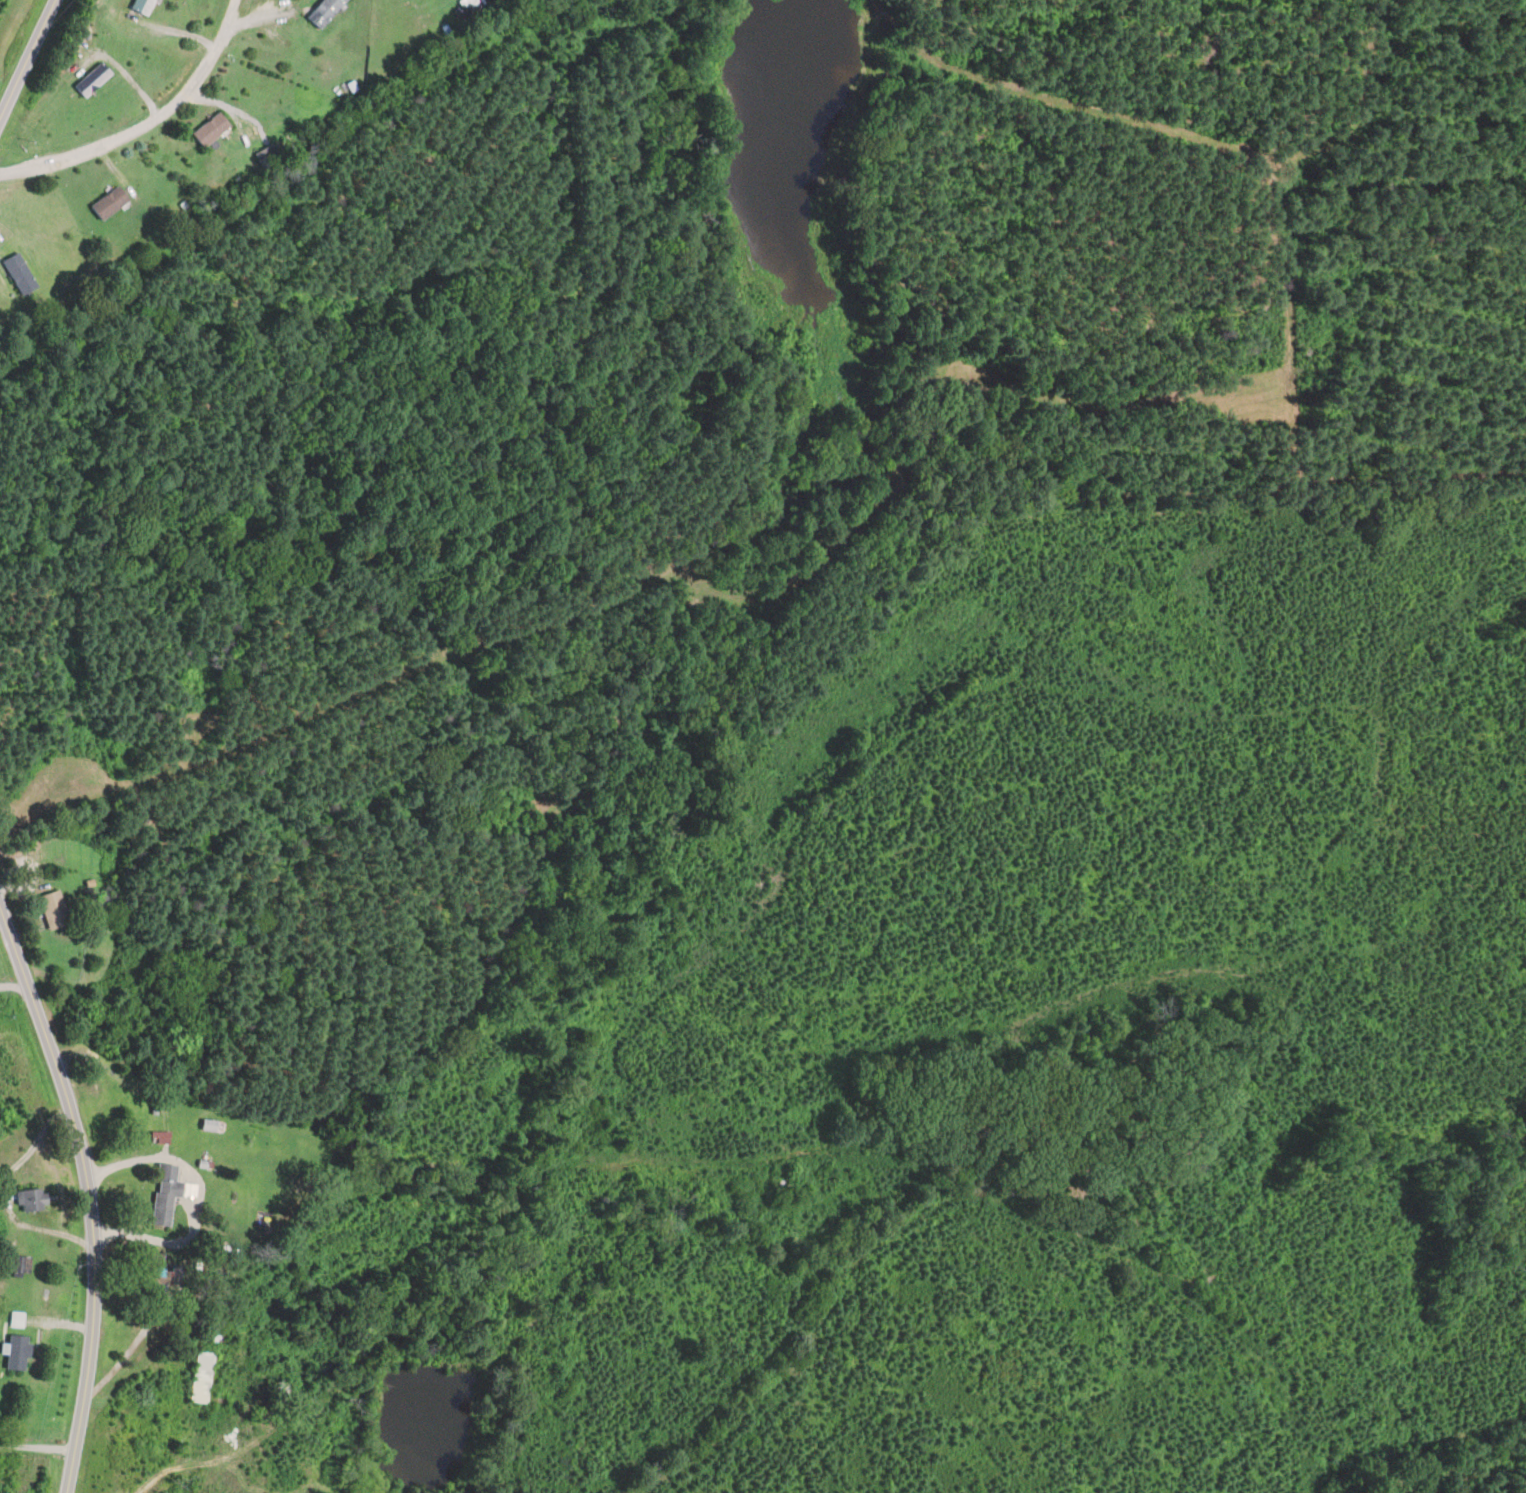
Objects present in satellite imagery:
building: (145, 6)
building: (327, 12)
road: (26, 57)
building: (96, 80)
road: (147, 124)
building: (213, 129)
building: (268, 154)
building: (112, 203)
building: (22, 274)
building: (56, 910)
building: (111, 940)
building: (212, 1126)
building: (171, 1193)
road: (87, 1195)
road: (190, 1199)
building: (33, 1200)
building: (17, 1319)
building: (18, 1353)
building: (203, 1378)
road: (36, 1446)

